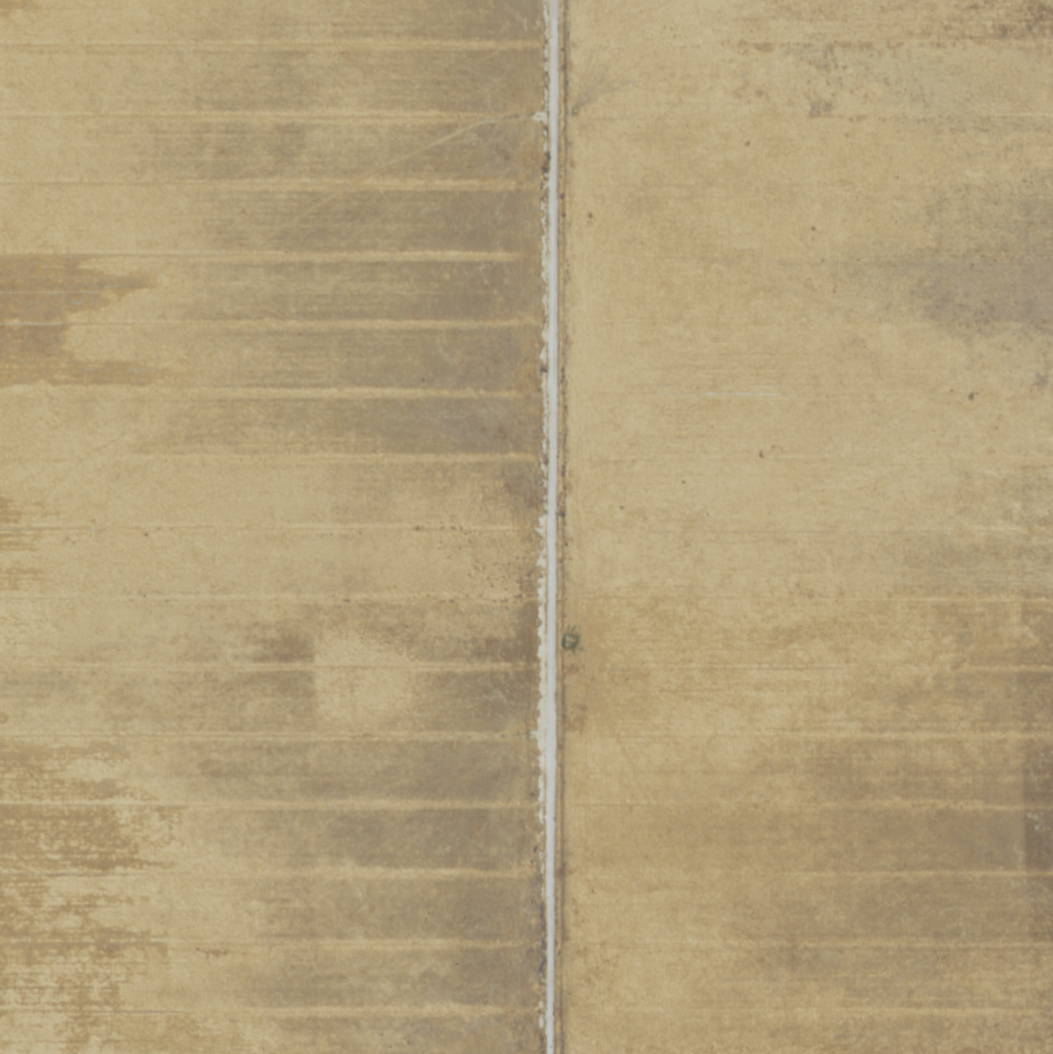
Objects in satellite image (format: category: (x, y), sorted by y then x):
crop: (271, 526)
crop: (804, 527)

